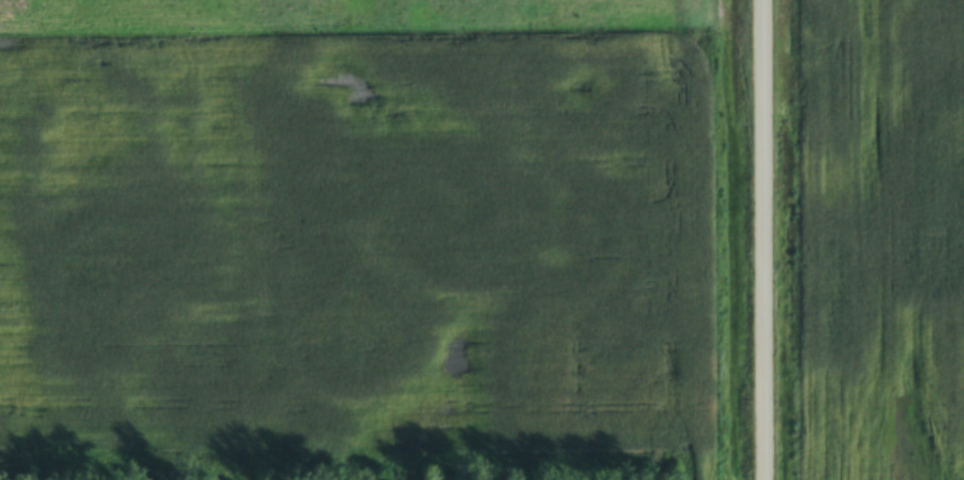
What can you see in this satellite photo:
road: (765, 240)

